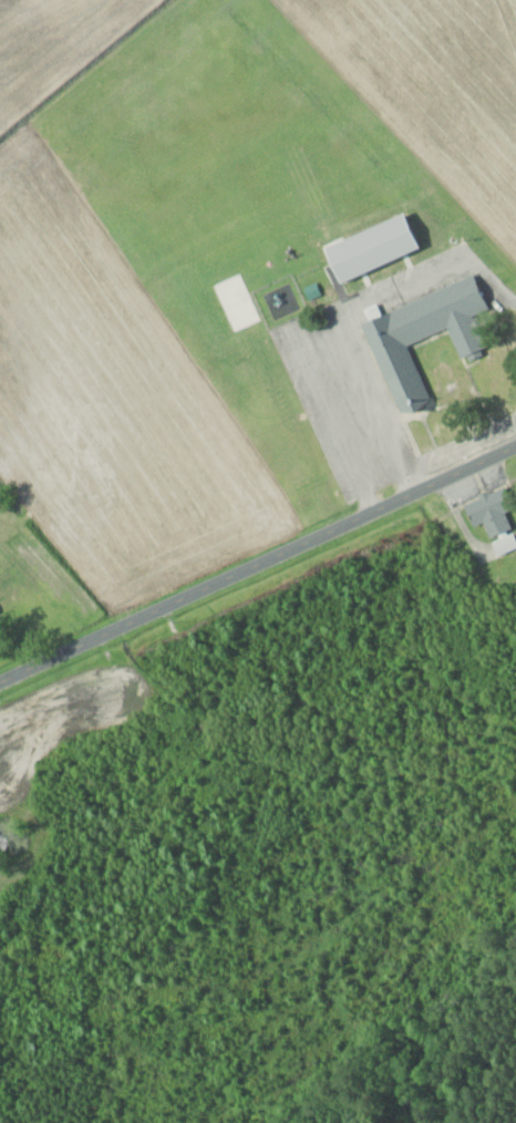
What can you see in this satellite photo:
building: (421, 336)
building: (487, 513)
building: (504, 543)
road: (258, 563)

